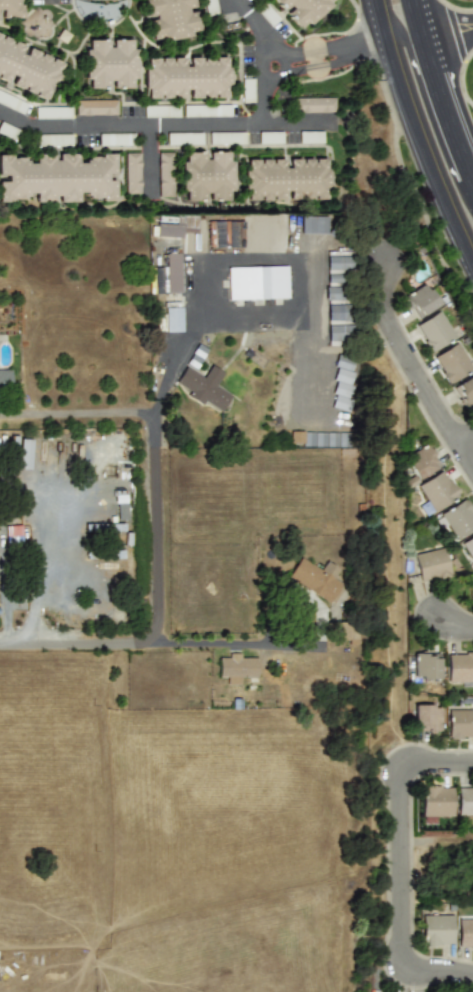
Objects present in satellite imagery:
building: (107, 1)
building: (211, 7)
building: (13, 11)
building: (303, 11)
building: (267, 14)
building: (178, 21)
road: (450, 37)
road: (327, 57)
building: (115, 68)
building: (30, 71)
road: (461, 78)
building: (191, 81)
street lamp: (379, 82)
road: (265, 83)
building: (248, 89)
road: (442, 89)
road: (433, 100)
building: (12, 102)
building: (314, 104)
building: (96, 106)
building: (162, 110)
building: (207, 110)
building: (54, 112)
road: (130, 126)
building: (10, 131)
building: (311, 136)
building: (271, 137)
building: (184, 138)
building: (227, 138)
building: (54, 139)
building: (116, 139)
road: (412, 143)
building: (133, 173)
building: (165, 174)
building: (205, 181)
building: (62, 183)
building: (286, 184)
building: (181, 222)
building: (174, 229)
building: (223, 234)
street lamp: (366, 249)
road: (245, 260)
building: (173, 272)
building: (337, 278)
building: (257, 282)
building: (420, 300)
building: (173, 318)
building: (338, 325)
building: (435, 330)
street lamp: (383, 346)
building: (196, 355)
road: (405, 358)
building: (452, 362)
building: (5, 378)
building: (204, 387)
building: (341, 388)
building: (465, 390)
street lamp: (457, 417)
building: (318, 439)
road: (465, 441)
building: (25, 454)
road: (465, 458)
building: (421, 461)
building: (436, 492)
building: (457, 519)
road: (157, 525)
road: (56, 532)
building: (13, 533)
building: (469, 547)
building: (432, 564)
building: (316, 578)
road: (454, 625)
road: (233, 642)
street lamp: (447, 642)
building: (426, 665)
building: (237, 666)
building: (460, 668)
building: (426, 718)
building: (460, 723)
street lamp: (378, 777)
building: (465, 800)
building: (436, 802)
road: (399, 866)
street lamp: (415, 876)
building: (437, 929)
building: (465, 933)
street lamp: (408, 991)

